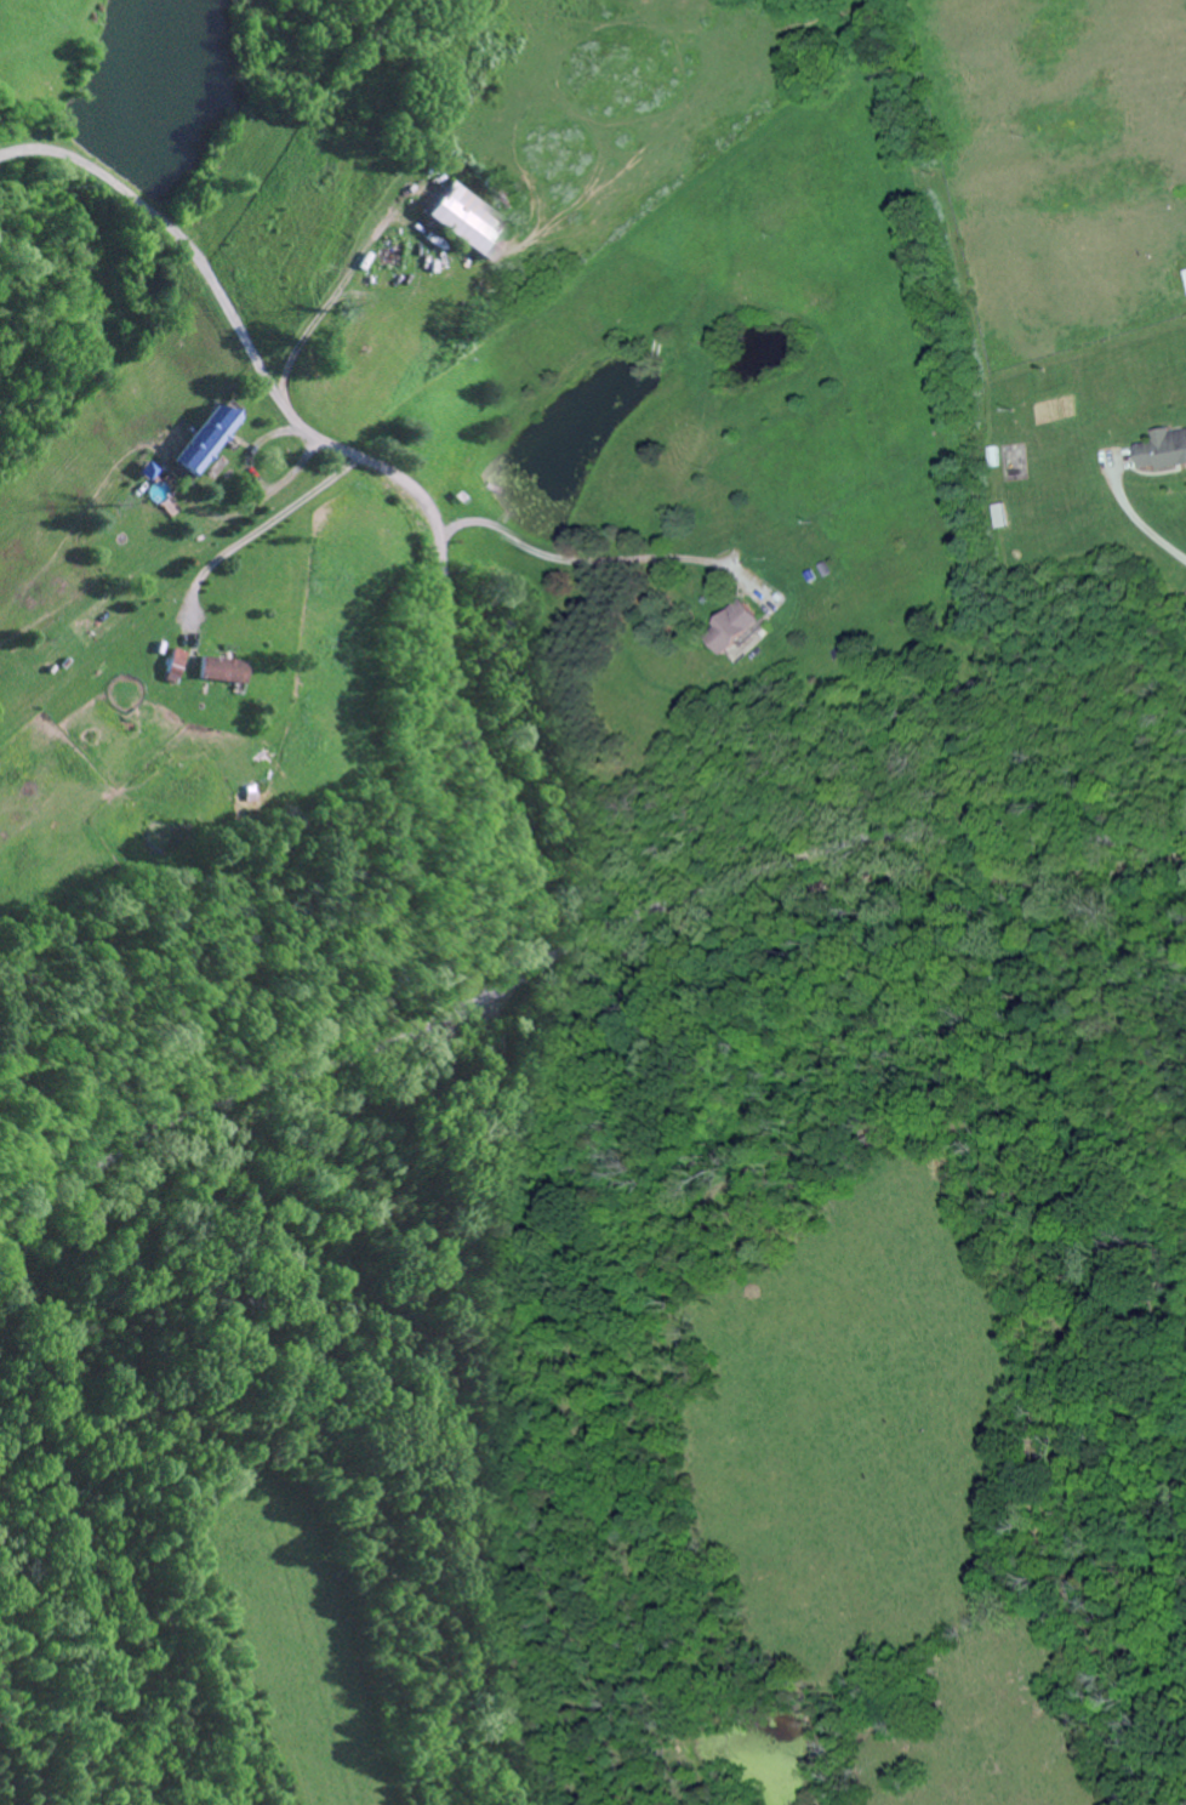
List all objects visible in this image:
building: (469, 223)
building: (207, 443)
building: (1163, 451)
road: (397, 477)
road: (1135, 520)
road: (251, 533)
road: (583, 562)
building: (734, 628)
building: (176, 667)
building: (224, 672)
road: (555, 953)

